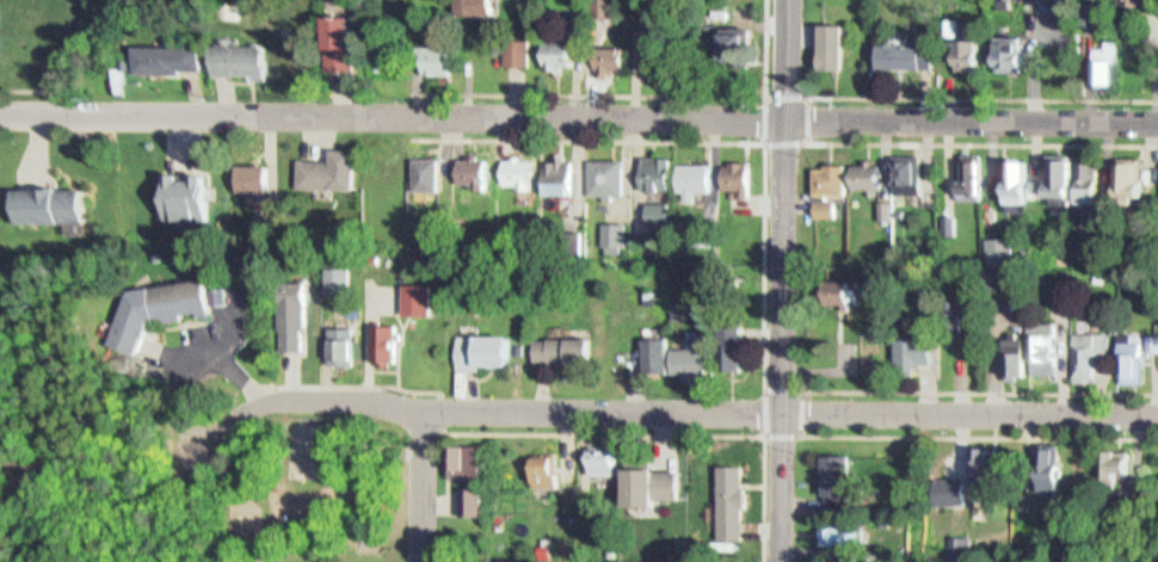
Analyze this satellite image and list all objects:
building: (1137, 4)
building: (467, 5)
building: (482, 7)
building: (608, 10)
building: (1, 11)
building: (332, 38)
building: (829, 39)
building: (645, 42)
building: (2, 43)
building: (347, 43)
building: (728, 43)
building: (511, 47)
building: (838, 47)
building: (905, 47)
building: (966, 47)
building: (1008, 48)
building: (554, 49)
building: (168, 51)
building: (522, 53)
building: (239, 54)
building: (425, 54)
building: (603, 55)
building: (131, 56)
building: (974, 56)
building: (1101, 57)
building: (615, 60)
building: (439, 61)
building: (1109, 64)
road: (639, 94)
road: (979, 97)
road: (578, 117)
road: (590, 141)
road: (801, 141)
road: (981, 141)
building: (321, 163)
building: (651, 165)
building: (468, 166)
building: (512, 166)
building: (905, 166)
building: (421, 167)
building: (731, 167)
building: (968, 167)
building: (1054, 167)
building: (864, 168)
building: (246, 171)
building: (553, 171)
building: (602, 171)
building: (688, 171)
building: (827, 171)
building: (1125, 172)
building: (432, 173)
building: (740, 174)
building: (1012, 174)
building: (1085, 174)
building: (977, 177)
building: (1135, 179)
building: (1094, 180)
building: (178, 190)
building: (44, 198)
building: (821, 202)
building: (880, 204)
building: (652, 205)
building: (985, 205)
building: (830, 208)
building: (661, 212)
building: (946, 216)
building: (258, 220)
building: (610, 230)
building: (264, 231)
building: (571, 236)
building: (996, 243)
road: (765, 264)
building: (991, 268)
building: (329, 273)
building: (1000, 278)
road: (784, 280)
building: (837, 286)
building: (411, 290)
building: (845, 292)
building: (147, 302)
building: (287, 308)
building: (956, 311)
building: (1145, 335)
building: (334, 339)
building: (380, 339)
building: (1036, 340)
building: (560, 341)
building: (728, 341)
building: (910, 344)
building: (478, 345)
building: (653, 347)
building: (1008, 348)
building: (1080, 348)
building: (1122, 351)
building: (688, 352)
building: (1017, 357)
road: (344, 384)
road: (981, 390)
road: (441, 409)
road: (707, 410)
road: (604, 432)
road: (765, 432)
road: (981, 434)
road: (208, 443)
building: (597, 452)
building: (458, 456)
building: (1104, 457)
building: (1123, 459)
building: (1041, 461)
building: (979, 463)
building: (538, 464)
building: (836, 475)
building: (646, 480)
road: (425, 486)
road: (117, 487)
park: (300, 487)
building: (464, 494)
building: (727, 495)
road: (763, 498)
building: (475, 500)
building: (840, 526)
building: (955, 541)
building: (538, 546)
building: (965, 546)
building: (677, 560)

